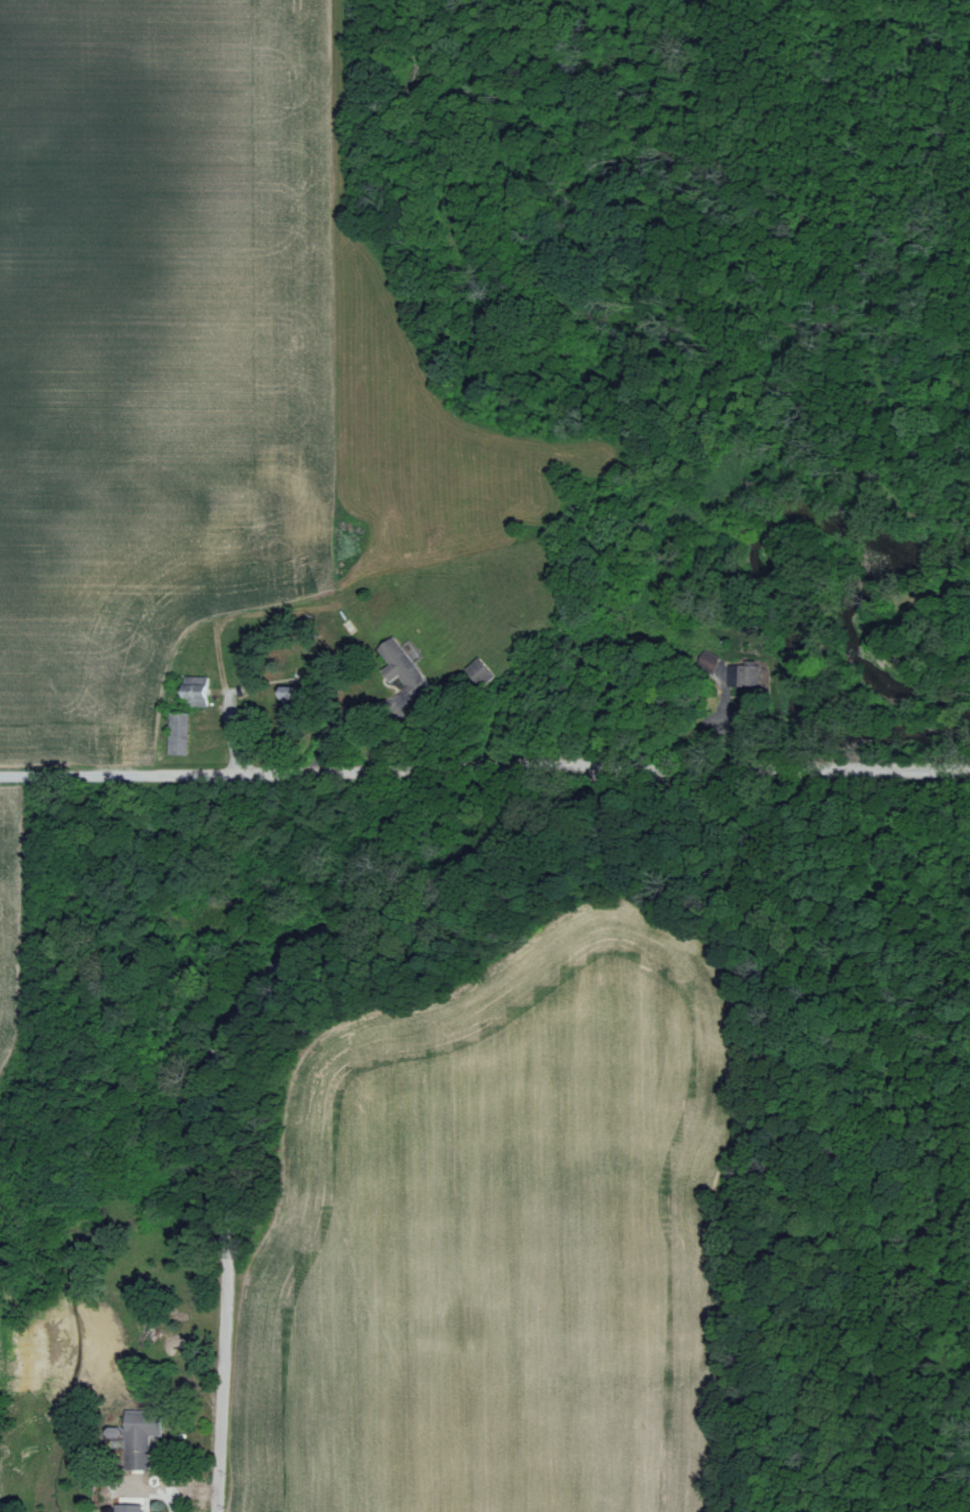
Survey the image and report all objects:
building: (404, 666)
building: (738, 690)
road: (484, 764)
road: (223, 1031)
building: (143, 1432)
building: (131, 1508)

